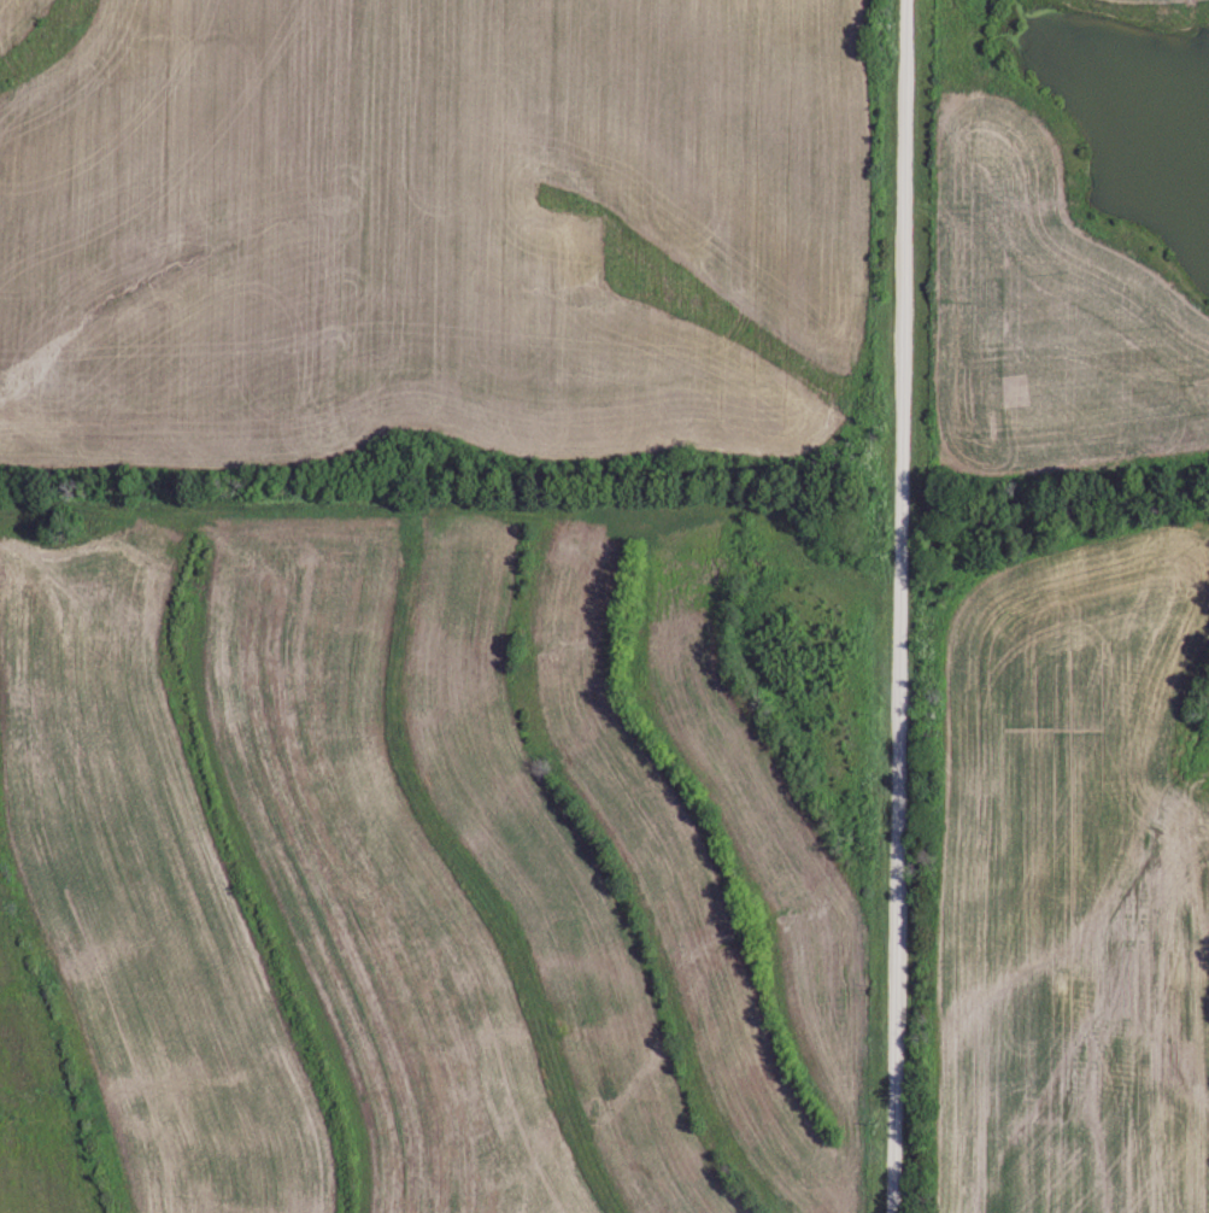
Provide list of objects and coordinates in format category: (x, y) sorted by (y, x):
road: (900, 606)

